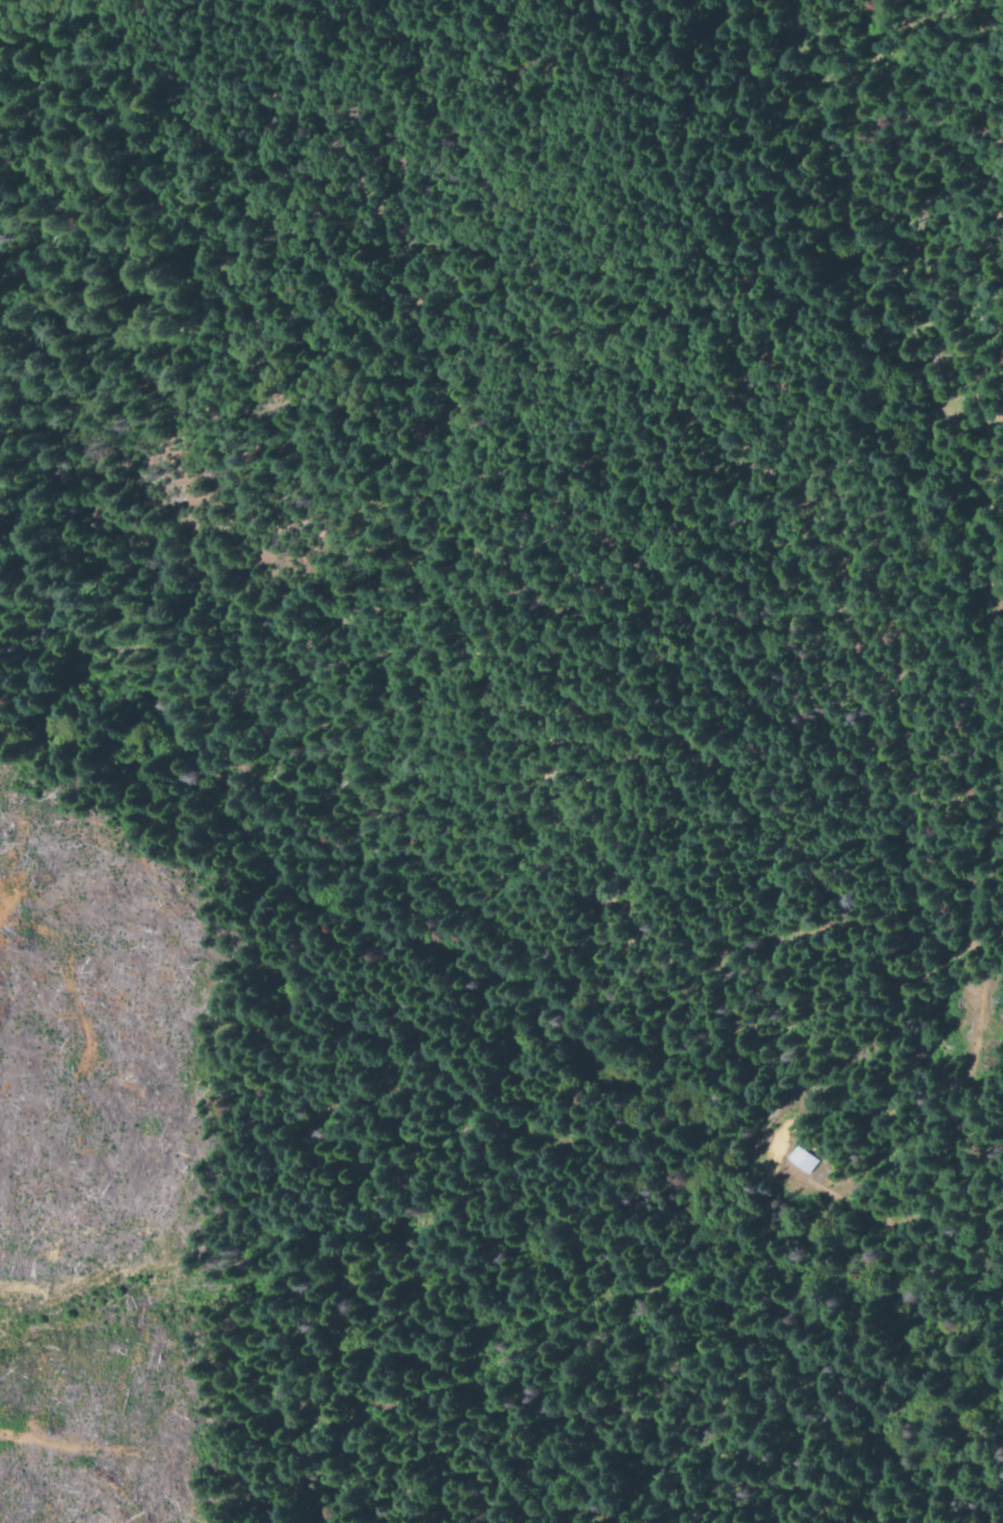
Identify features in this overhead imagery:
building: (799, 1161)

